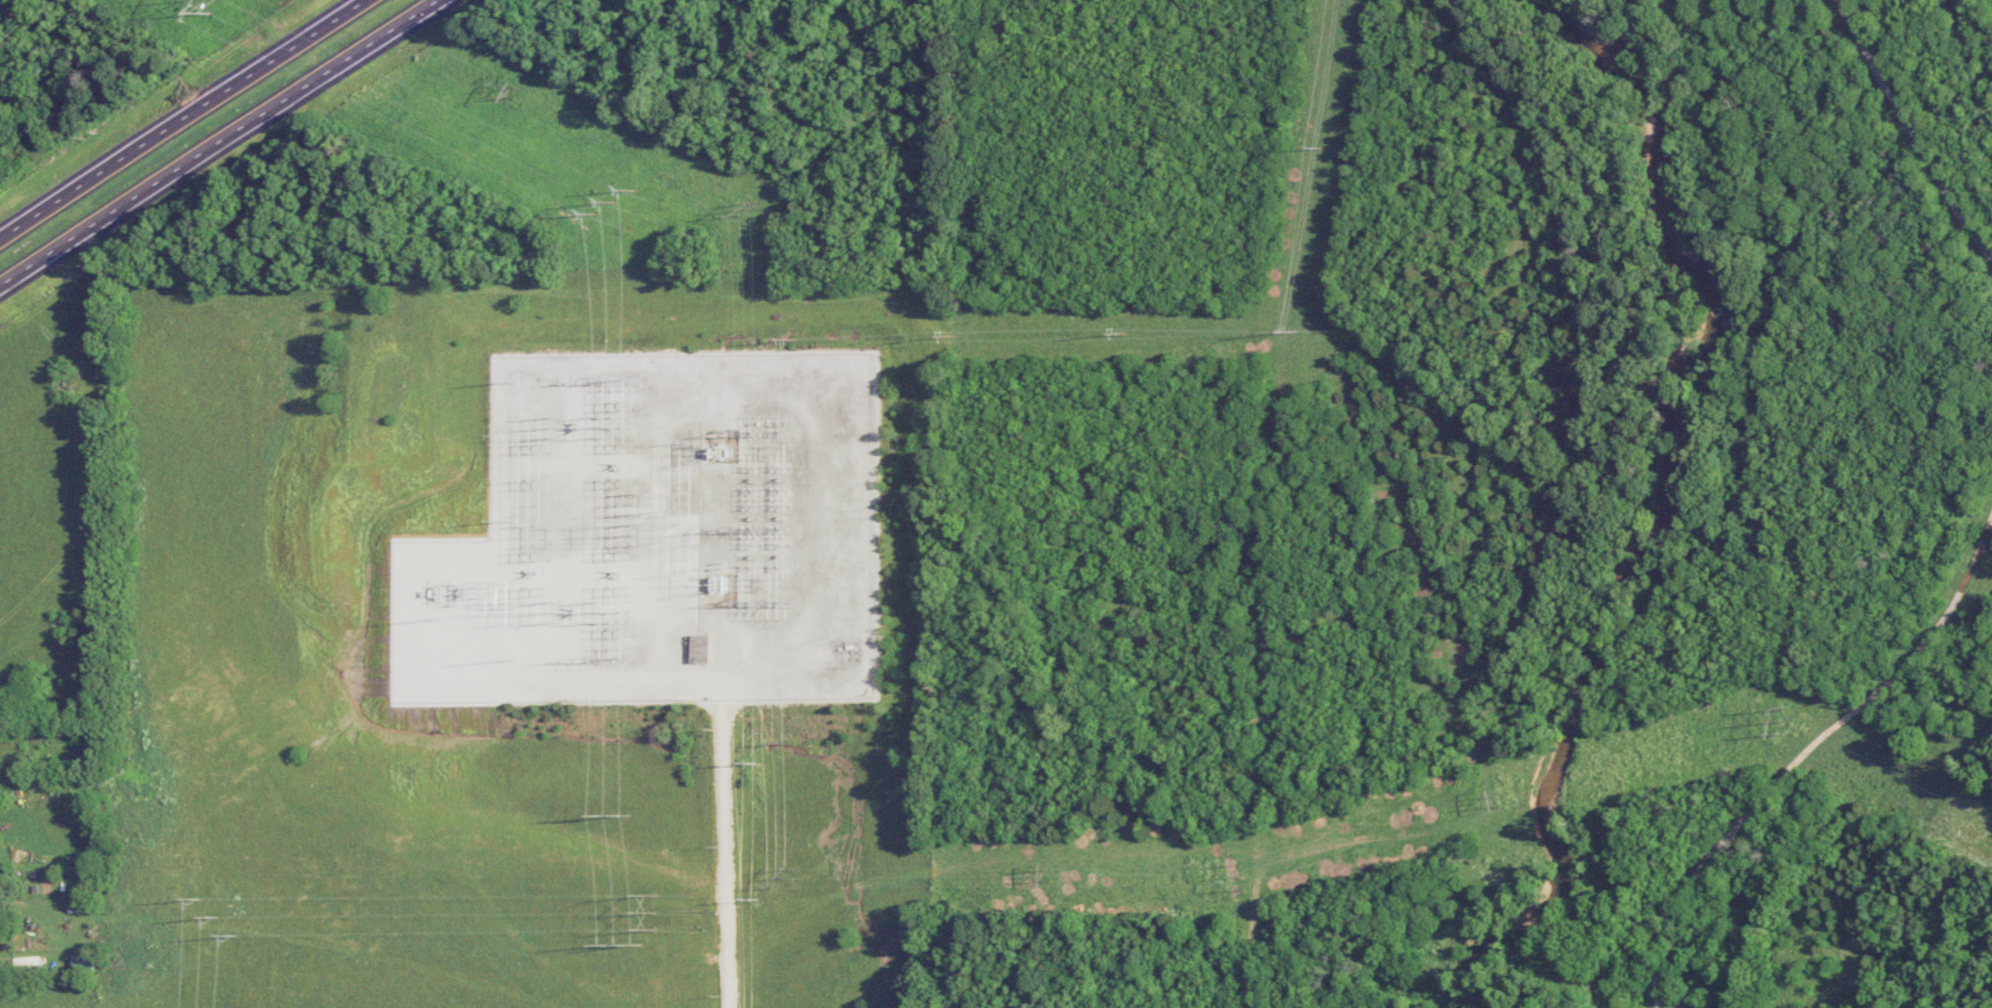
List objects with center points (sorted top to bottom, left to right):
power tower: (213, 5)
power tower: (516, 94)
road: (181, 118)
road: (1915, 126)
road: (220, 144)
power tower: (612, 202)
power tower: (750, 213)
river: (1679, 492)
power substation: (682, 526)
building: (703, 648)
power tower: (1781, 722)
power tower: (779, 743)
road: (1799, 752)
power tower: (752, 761)
power tower: (1495, 802)
power tower: (615, 811)
road: (726, 853)
power tower: (1046, 876)
power tower: (1241, 876)
power tower: (783, 879)
power tower: (220, 918)

